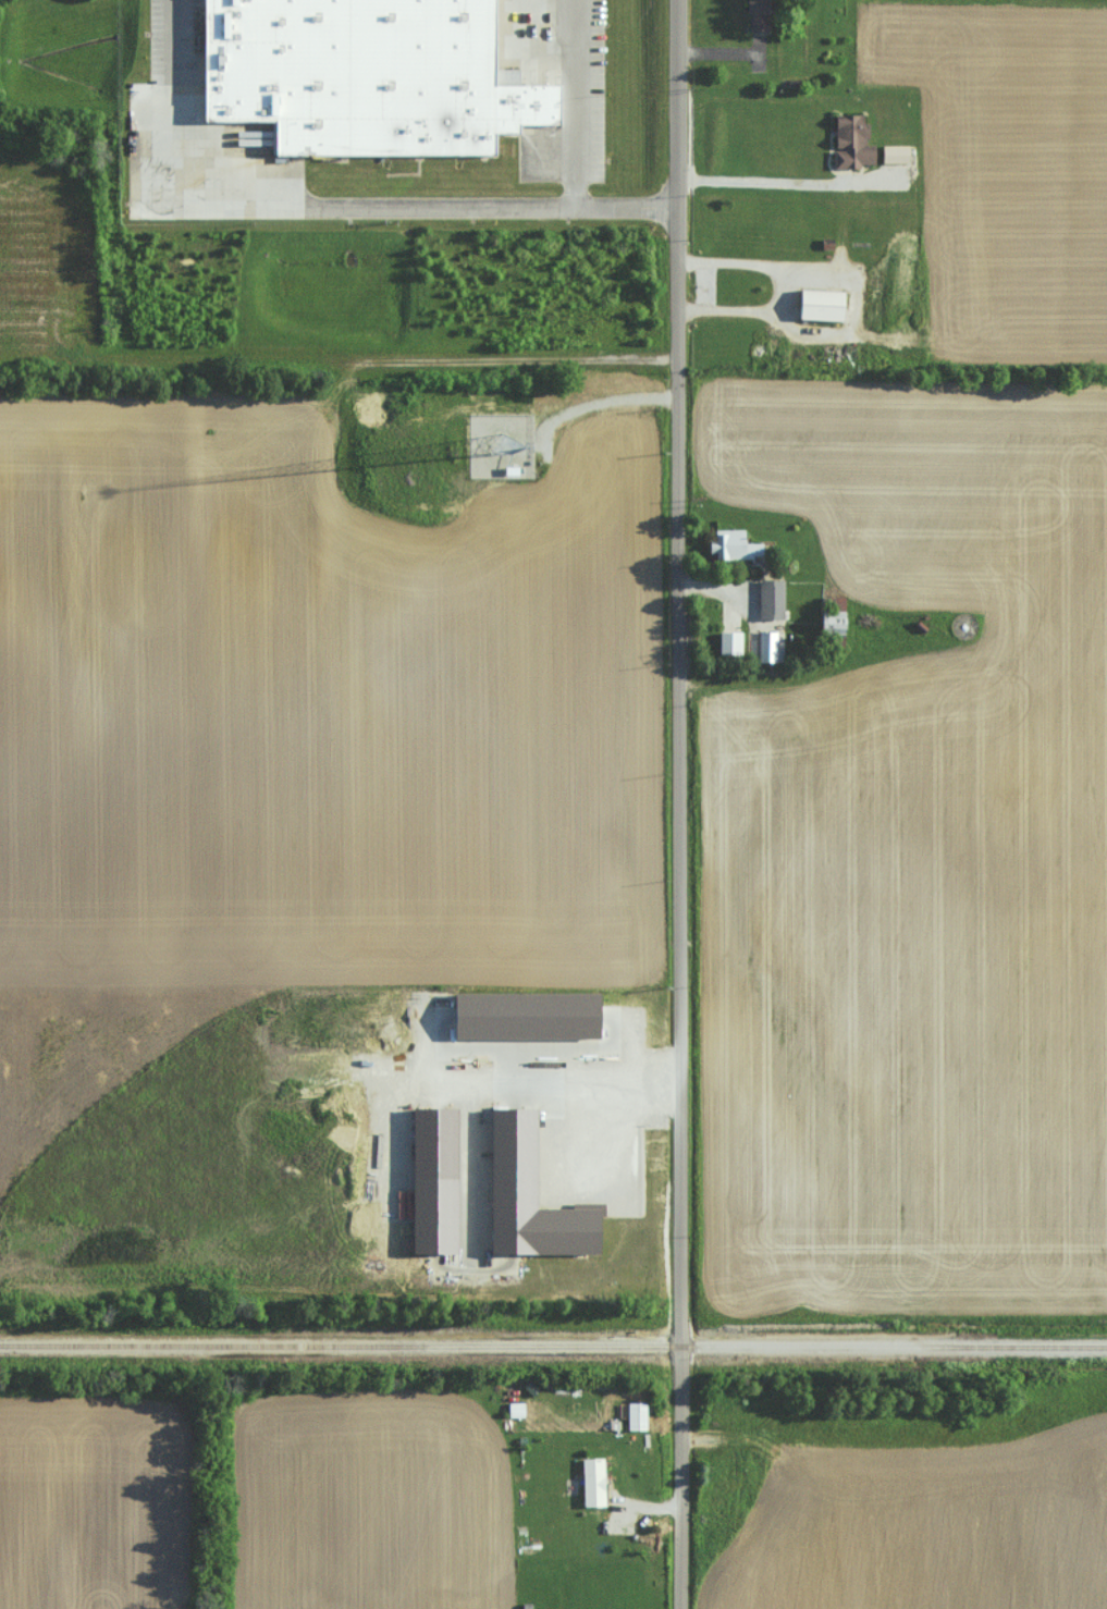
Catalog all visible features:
parking lot: (175, 11)
building: (757, 13)
road: (171, 40)
building: (371, 74)
road: (575, 102)
building: (851, 143)
building: (894, 153)
road: (786, 181)
road: (181, 202)
road: (491, 205)
building: (820, 303)
building: (504, 446)
building: (731, 544)
building: (770, 598)
building: (767, 646)
road: (678, 804)
building: (527, 1017)
road: (556, 1082)
road: (598, 1125)
building: (530, 1197)
building: (435, 1216)
railway: (553, 1346)
building: (516, 1409)
building: (592, 1482)

